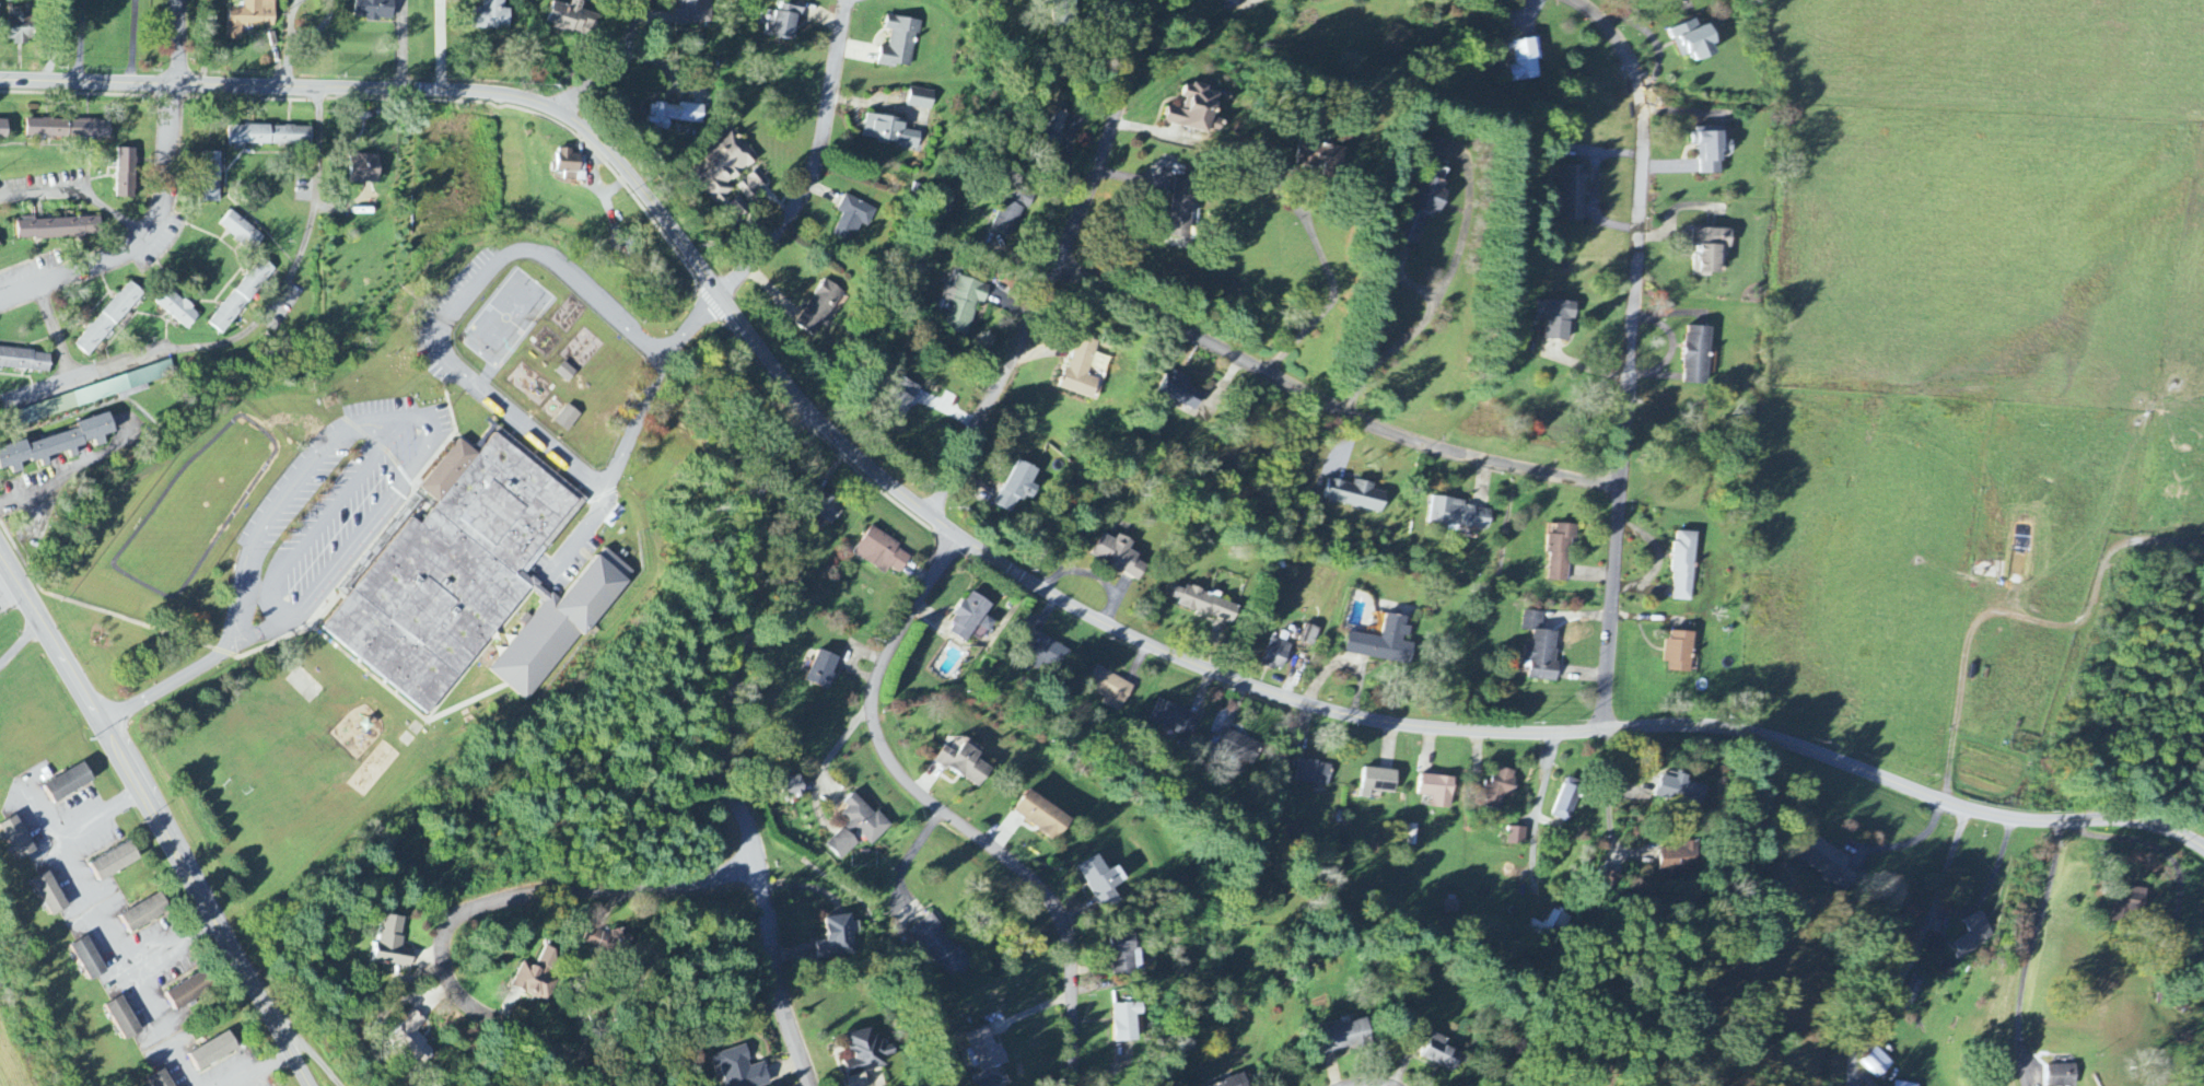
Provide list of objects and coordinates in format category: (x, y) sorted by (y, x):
building: (374, 10)
building: (693, 12)
building: (491, 16)
building: (250, 17)
road: (292, 19)
building: (573, 19)
building: (785, 21)
building: (22, 26)
road: (318, 28)
building: (1695, 40)
road: (81, 43)
road: (132, 44)
road: (176, 44)
building: (899, 44)
road: (285, 62)
road: (614, 66)
road: (471, 91)
building: (922, 100)
building: (1203, 110)
building: (674, 115)
building: (1061, 118)
building: (3, 128)
building: (68, 129)
building: (890, 131)
building: (270, 136)
road: (1109, 136)
building: (1712, 150)
building: (1327, 159)
road: (815, 161)
building: (726, 165)
building: (572, 166)
building: (365, 170)
building: (126, 174)
building: (211, 178)
building: (753, 185)
road: (81, 189)
building: (1572, 192)
building: (1427, 202)
building: (1187, 210)
building: (1014, 211)
building: (852, 218)
building: (59, 230)
building: (241, 232)
road: (144, 241)
building: (0, 246)
building: (1711, 250)
road: (1319, 252)
building: (242, 297)
building: (177, 310)
building: (820, 310)
road: (453, 312)
building: (108, 319)
building: (1561, 320)
road: (249, 328)
road: (58, 334)
road: (1631, 352)
building: (1699, 355)
building: (25, 361)
building: (1081, 370)
road: (994, 390)
building: (1180, 392)
building: (96, 394)
building: (906, 396)
road: (1329, 404)
building: (568, 419)
road: (215, 436)
road: (627, 436)
building: (57, 445)
road: (369, 466)
building: (1017, 487)
building: (1356, 495)
building: (827, 509)
building: (1459, 515)
building: (882, 552)
building: (1561, 553)
building: (1119, 557)
building: (1684, 567)
building: (466, 581)
building: (1206, 605)
building: (971, 620)
road: (142, 624)
building: (1309, 635)
building: (1384, 642)
building: (1541, 649)
building: (1680, 653)
building: (1047, 655)
building: (1278, 655)
building: (824, 670)
building: (1109, 688)
building: (1175, 719)
road: (1469, 729)
road: (728, 745)
building: (1237, 748)
building: (965, 764)
building: (1314, 772)
building: (1379, 782)
building: (69, 783)
road: (1610, 785)
building: (1502, 787)
building: (793, 789)
building: (1666, 790)
building: (1438, 791)
building: (1567, 799)
road: (1540, 805)
road: (46, 809)
road: (945, 814)
building: (1041, 816)
road: (158, 819)
building: (858, 827)
road: (69, 828)
building: (1517, 837)
building: (18, 839)
road: (1911, 841)
road: (2149, 844)
building: (1823, 856)
building: (1679, 860)
building: (115, 862)
building: (1101, 881)
road: (1992, 884)
building: (50, 895)
building: (2126, 901)
road: (479, 906)
building: (145, 913)
building: (1554, 924)
building: (1971, 935)
building: (608, 939)
building: (837, 939)
road: (172, 941)
park: (494, 941)
building: (393, 944)
building: (1935, 944)
building: (941, 948)
road: (1916, 951)
road: (2031, 953)
building: (1123, 955)
building: (89, 959)
building: (1946, 965)
road: (132, 971)
building: (536, 977)
building: (190, 991)
building: (1906, 991)
building: (124, 1019)
building: (1126, 1023)
building: (1346, 1037)
building: (412, 1038)
building: (987, 1050)
building: (214, 1052)
building: (866, 1052)
building: (1441, 1054)
building: (1873, 1061)
road: (185, 1066)
road: (259, 1067)
building: (741, 1069)
building: (2050, 1075)
building: (162, 1079)
building: (1234, 1082)
road: (1371, 1083)
building: (1903, 1084)

